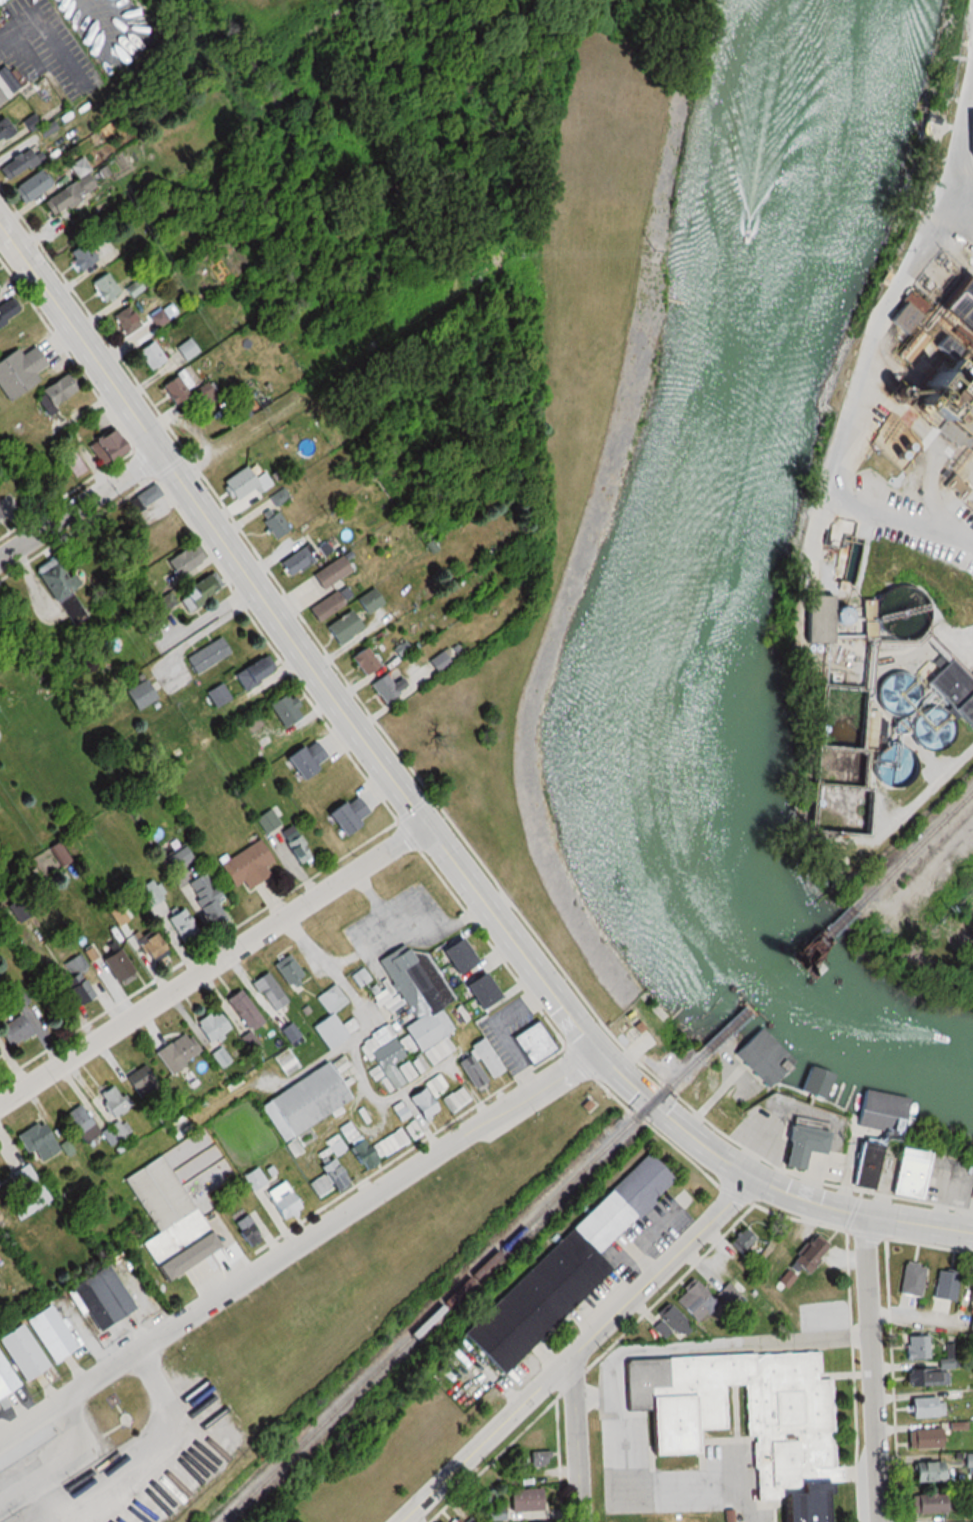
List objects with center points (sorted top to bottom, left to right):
building: (6, 84)
building: (17, 164)
building: (30, 186)
building: (70, 189)
building: (79, 256)
building: (103, 287)
building: (132, 288)
building: (936, 306)
building: (6, 310)
building: (159, 317)
building: (124, 320)
road: (80, 337)
road: (870, 340)
building: (185, 349)
building: (148, 354)
building: (17, 370)
building: (969, 373)
building: (185, 387)
building: (51, 393)
building: (105, 445)
building: (243, 483)
building: (146, 495)
road: (80, 504)
building: (0, 518)
building: (164, 530)
building: (182, 560)
building: (293, 564)
building: (329, 572)
building: (54, 579)
building: (198, 589)
building: (368, 600)
building: (326, 605)
river: (677, 617)
building: (342, 626)
building: (206, 655)
building: (440, 659)
building: (363, 660)
building: (252, 671)
building: (386, 686)
building: (139, 693)
building: (836, 693)
building: (283, 708)
building: (303, 759)
building: (345, 814)
building: (282, 835)
building: (178, 858)
building: (49, 859)
railway: (916, 859)
building: (246, 865)
building: (148, 893)
building: (205, 896)
building: (182, 924)
road: (502, 925)
building: (350, 932)
building: (148, 947)
building: (456, 955)
road: (212, 962)
building: (112, 967)
building: (287, 969)
building: (360, 978)
building: (75, 979)
railway: (792, 980)
building: (269, 990)
building: (478, 990)
building: (17, 999)
building: (242, 1008)
building: (415, 1017)
building: (332, 1019)
building: (210, 1025)
building: (13, 1031)
building: (531, 1043)
building: (176, 1051)
building: (219, 1057)
building: (763, 1058)
building: (478, 1063)
building: (140, 1081)
building: (816, 1083)
building: (455, 1100)
building: (303, 1101)
building: (113, 1102)
building: (420, 1103)
building: (881, 1111)
building: (80, 1123)
building: (179, 1128)
building: (115, 1132)
building: (346, 1132)
building: (36, 1140)
building: (800, 1142)
building: (375, 1145)
building: (865, 1165)
building: (905, 1173)
building: (253, 1179)
building: (26, 1180)
building: (327, 1180)
building: (280, 1200)
building: (167, 1220)
building: (741, 1241)
road: (297, 1244)
building: (806, 1256)
road: (660, 1269)
building: (559, 1272)
building: (911, 1279)
railway: (479, 1283)
building: (971, 1285)
building: (943, 1291)
building: (730, 1292)
building: (100, 1298)
building: (693, 1301)
building: (671, 1318)
building: (971, 1323)
building: (46, 1334)
building: (915, 1347)
building: (19, 1352)
road: (871, 1367)
building: (925, 1378)
building: (4, 1385)
building: (922, 1407)
building: (742, 1416)
building: (925, 1438)
road: (482, 1441)
road: (576, 1441)
building: (538, 1459)
building: (927, 1471)
road: (631, 1493)
building: (522, 1500)
building: (925, 1502)
building: (456, 1520)
building: (468, 1520)

